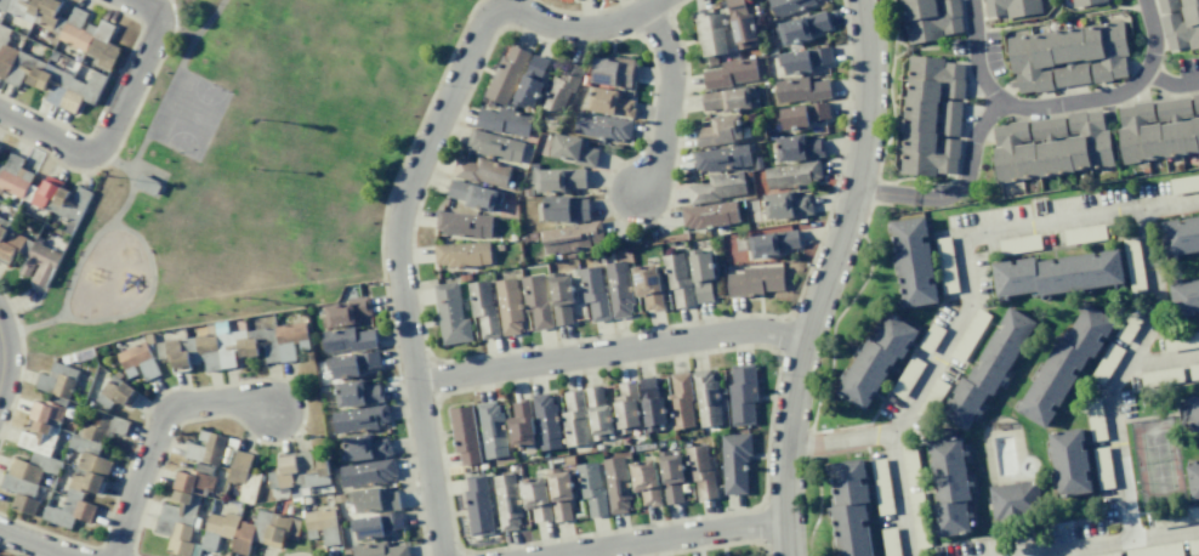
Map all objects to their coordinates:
building: (1081, 2)
building: (1166, 5)
building: (786, 6)
building: (1010, 7)
building: (33, 10)
road: (142, 10)
building: (928, 18)
road: (208, 19)
building: (740, 23)
building: (1182, 25)
building: (802, 27)
building: (711, 34)
building: (86, 36)
building: (1067, 55)
building: (805, 59)
building: (613, 72)
building: (729, 73)
building: (506, 75)
building: (52, 80)
building: (530, 81)
road: (170, 83)
road: (1170, 83)
road: (132, 86)
building: (562, 87)
building: (801, 89)
road: (666, 98)
building: (729, 100)
road: (891, 100)
building: (609, 102)
building: (1195, 102)
road: (1057, 103)
building: (802, 114)
park: (189, 115)
building: (930, 115)
building: (502, 121)
building: (601, 126)
building: (720, 130)
building: (1157, 130)
road: (47, 138)
building: (494, 146)
building: (1050, 146)
building: (797, 147)
building: (573, 149)
building: (722, 158)
building: (757, 163)
road: (142, 168)
park: (249, 168)
building: (481, 171)
building: (791, 175)
building: (13, 177)
building: (559, 180)
road: (127, 182)
building: (1184, 183)
building: (146, 185)
road: (405, 187)
building: (716, 187)
road: (954, 189)
building: (49, 192)
building: (80, 195)
building: (473, 195)
building: (784, 204)
building: (564, 209)
building: (710, 215)
building: (464, 222)
road: (970, 233)
building: (1084, 234)
building: (1180, 234)
building: (569, 236)
building: (7, 242)
building: (771, 242)
building: (1019, 244)
building: (460, 254)
building: (913, 261)
building: (945, 265)
building: (1133, 265)
building: (700, 273)
building: (1057, 273)
road: (152, 276)
road: (824, 277)
building: (677, 278)
building: (754, 280)
building: (647, 285)
building: (618, 288)
road: (1153, 290)
building: (592, 293)
building: (561, 296)
building: (1184, 297)
building: (535, 301)
building: (507, 305)
building: (482, 308)
building: (347, 311)
building: (450, 314)
building: (1131, 322)
building: (968, 335)
building: (930, 337)
building: (347, 339)
building: (290, 340)
building: (1181, 341)
building: (262, 342)
building: (231, 347)
road: (609, 351)
road: (0, 352)
building: (203, 352)
building: (175, 354)
building: (137, 361)
building: (875, 361)
building: (353, 363)
building: (1063, 364)
building: (1106, 364)
building: (988, 367)
building: (1193, 370)
building: (907, 376)
building: (1161, 376)
building: (57, 380)
building: (113, 392)
building: (356, 393)
building: (741, 395)
building: (706, 398)
building: (931, 398)
building: (680, 401)
building: (650, 403)
building: (625, 407)
building: (49, 410)
building: (598, 412)
building: (1193, 412)
building: (358, 418)
building: (573, 418)
building: (1095, 420)
building: (546, 422)
building: (521, 425)
building: (102, 427)
building: (490, 430)
road: (157, 431)
building: (465, 435)
building: (38, 438)
road: (837, 439)
building: (363, 447)
road: (1115, 447)
building: (205, 448)
building: (89, 455)
building: (734, 461)
building: (1069, 463)
building: (910, 465)
building: (34, 466)
building: (312, 469)
building: (1102, 469)
building: (699, 471)
building: (284, 472)
building: (365, 472)
building: (670, 475)
building: (243, 476)
building: (194, 478)
building: (644, 481)
building: (1193, 481)
building: (83, 483)
building: (615, 483)
building: (881, 487)
building: (950, 487)
building: (590, 488)
building: (19, 493)
building: (558, 493)
road: (898, 494)
building: (374, 499)
building: (534, 499)
building: (1013, 499)
building: (506, 500)
building: (477, 504)
building: (848, 507)
building: (180, 509)
building: (68, 511)
building: (1175, 516)
building: (917, 517)
building: (377, 524)
park: (377, 524)
building: (322, 526)
building: (218, 528)
building: (279, 528)
building: (249, 532)
road: (665, 537)
building: (177, 538)
building: (888, 541)
road: (33, 544)
building: (1193, 546)
road: (1075, 548)
building: (379, 549)
building: (1157, 550)
building: (1107, 554)
road: (1030, 555)

